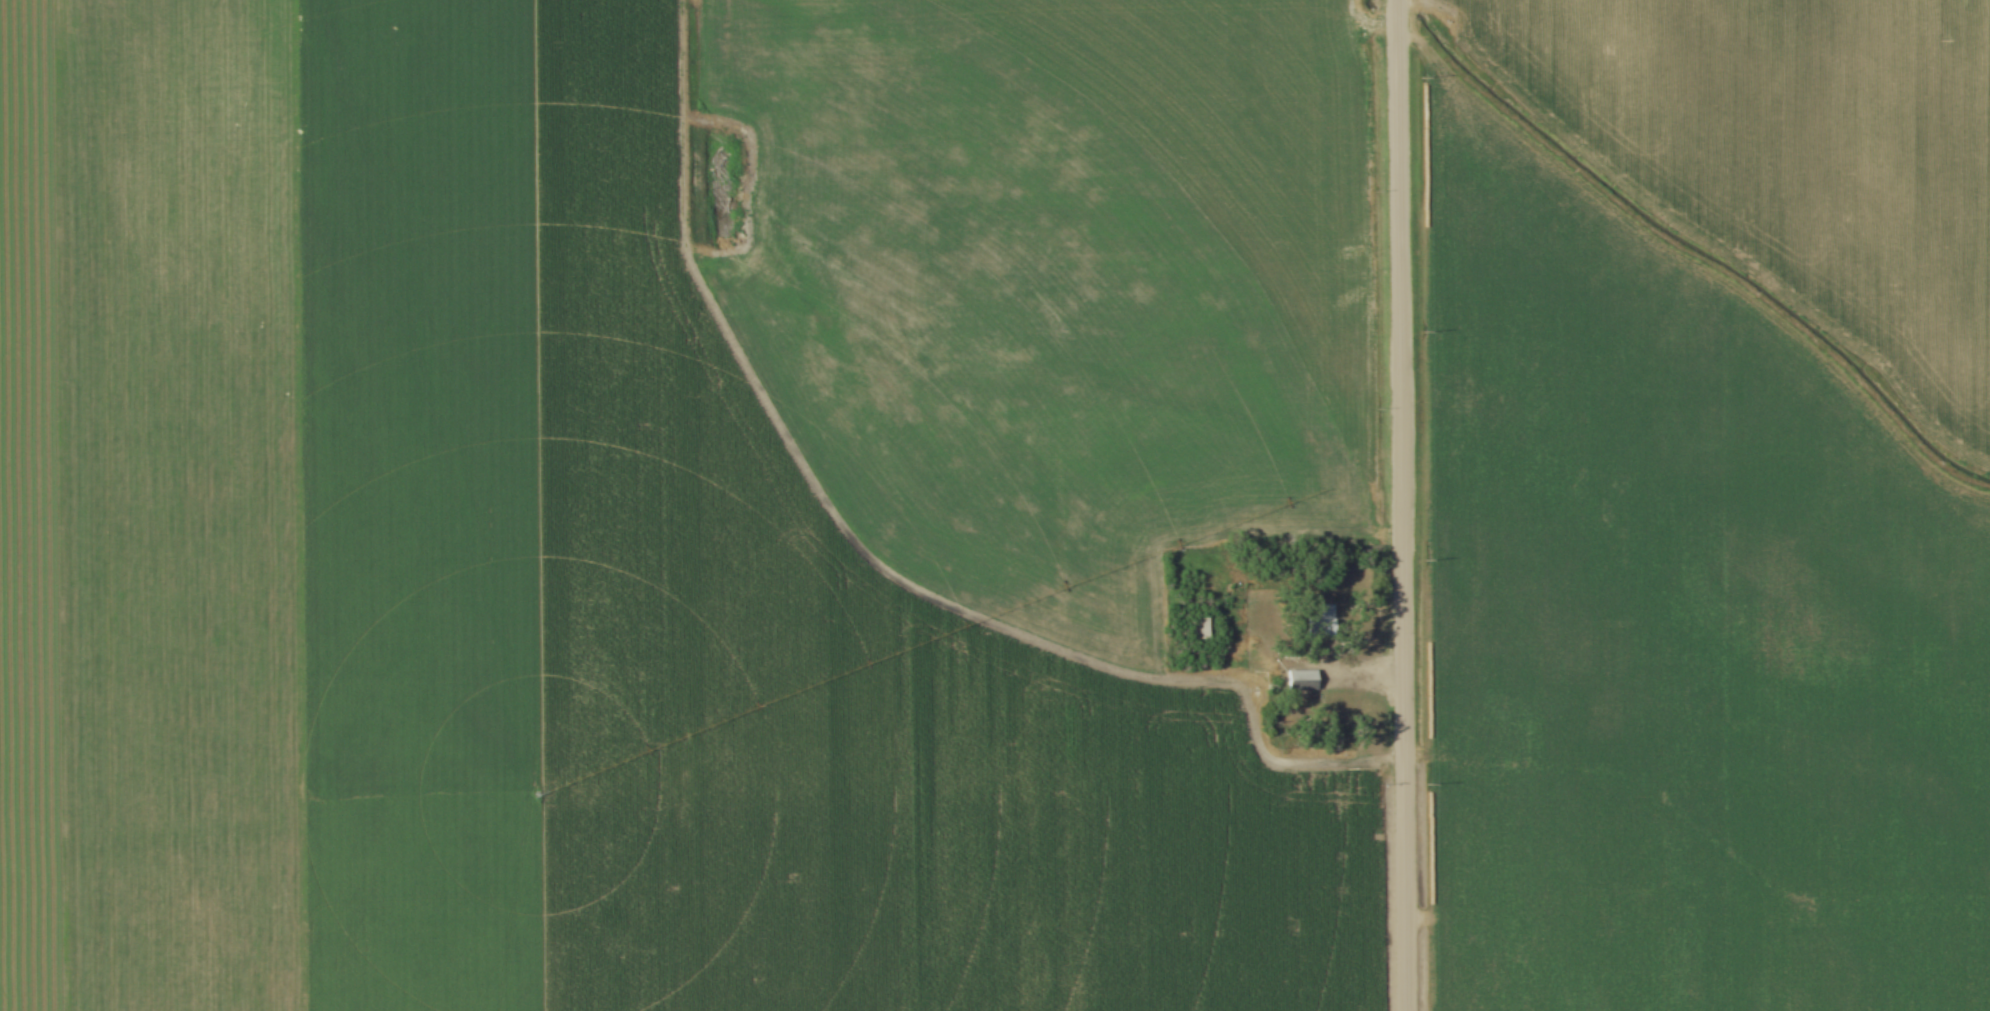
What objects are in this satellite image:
crop: (1799, 155)
crop: (667, 502)
road: (1400, 505)
building: (1317, 621)
building: (1195, 626)
crop: (1679, 636)
road: (1340, 663)
building: (1300, 680)

